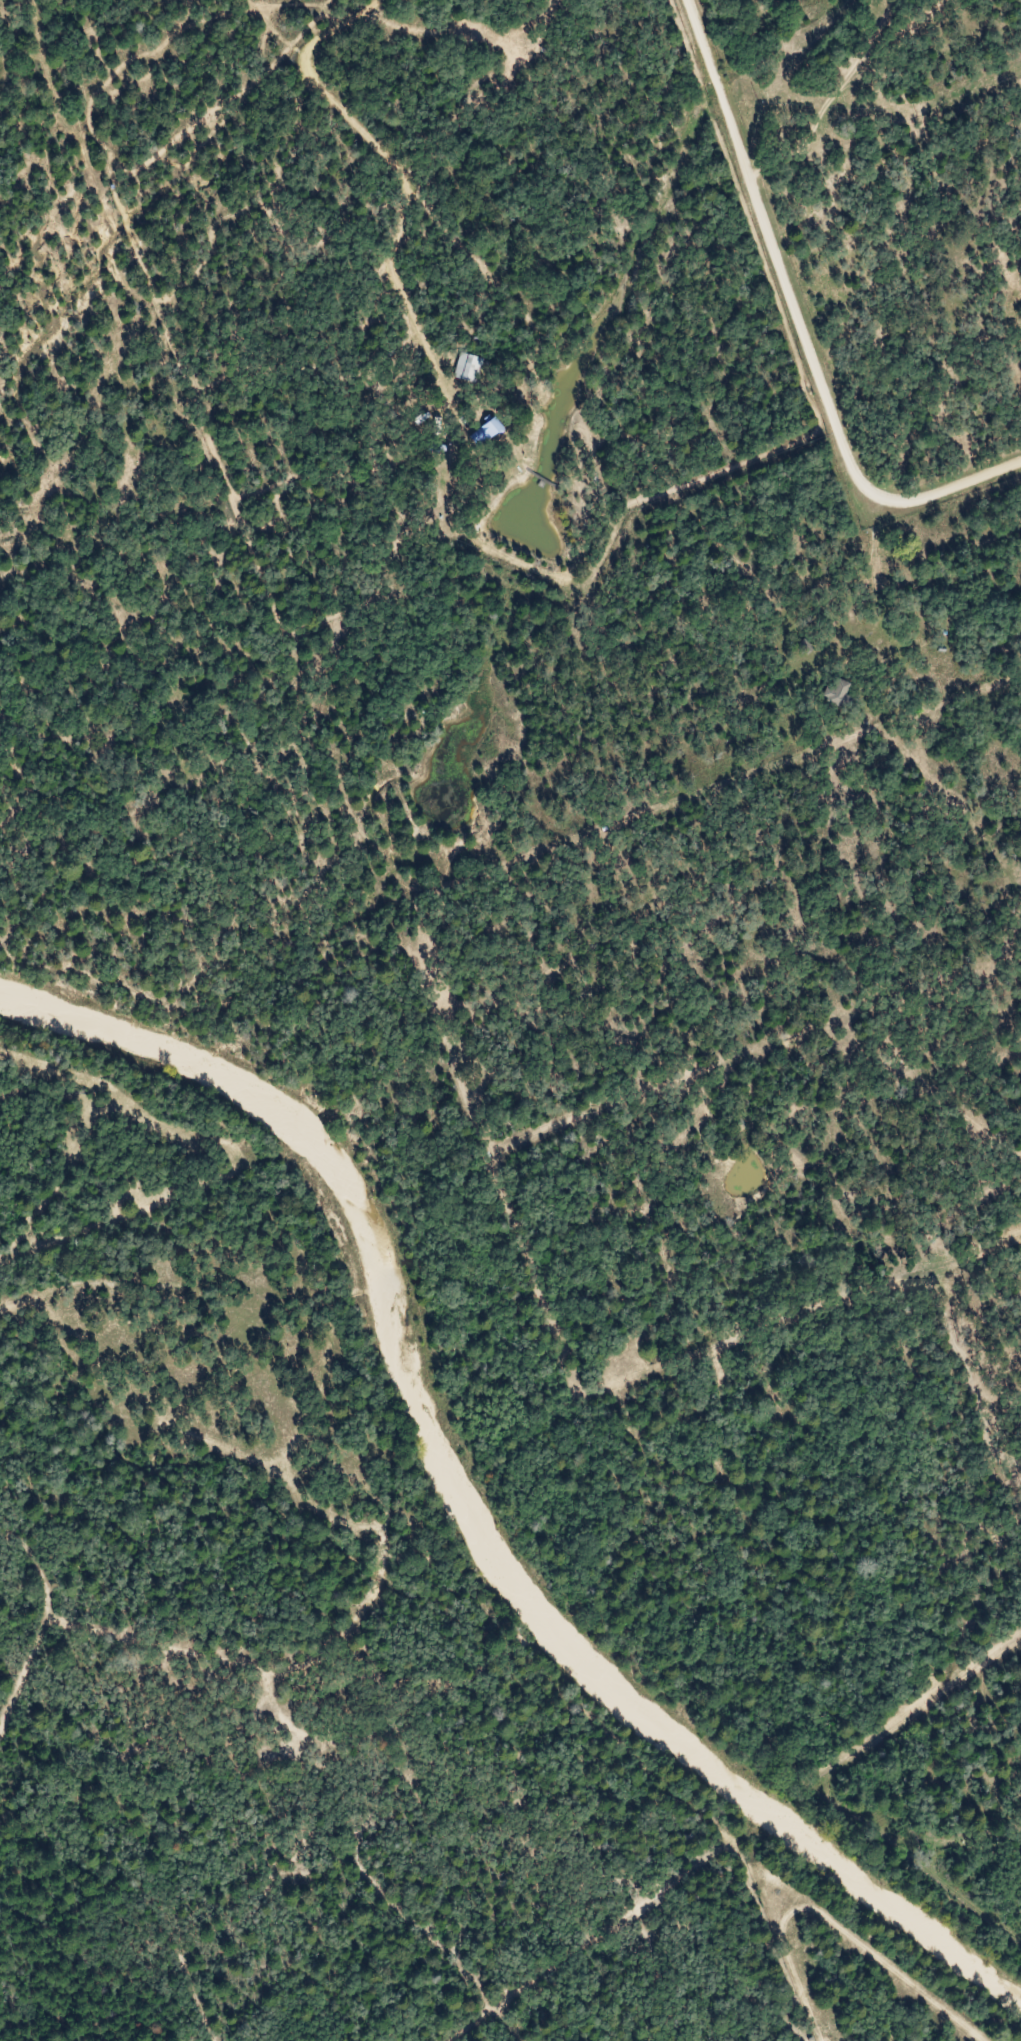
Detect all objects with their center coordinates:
building: (461, 368)

